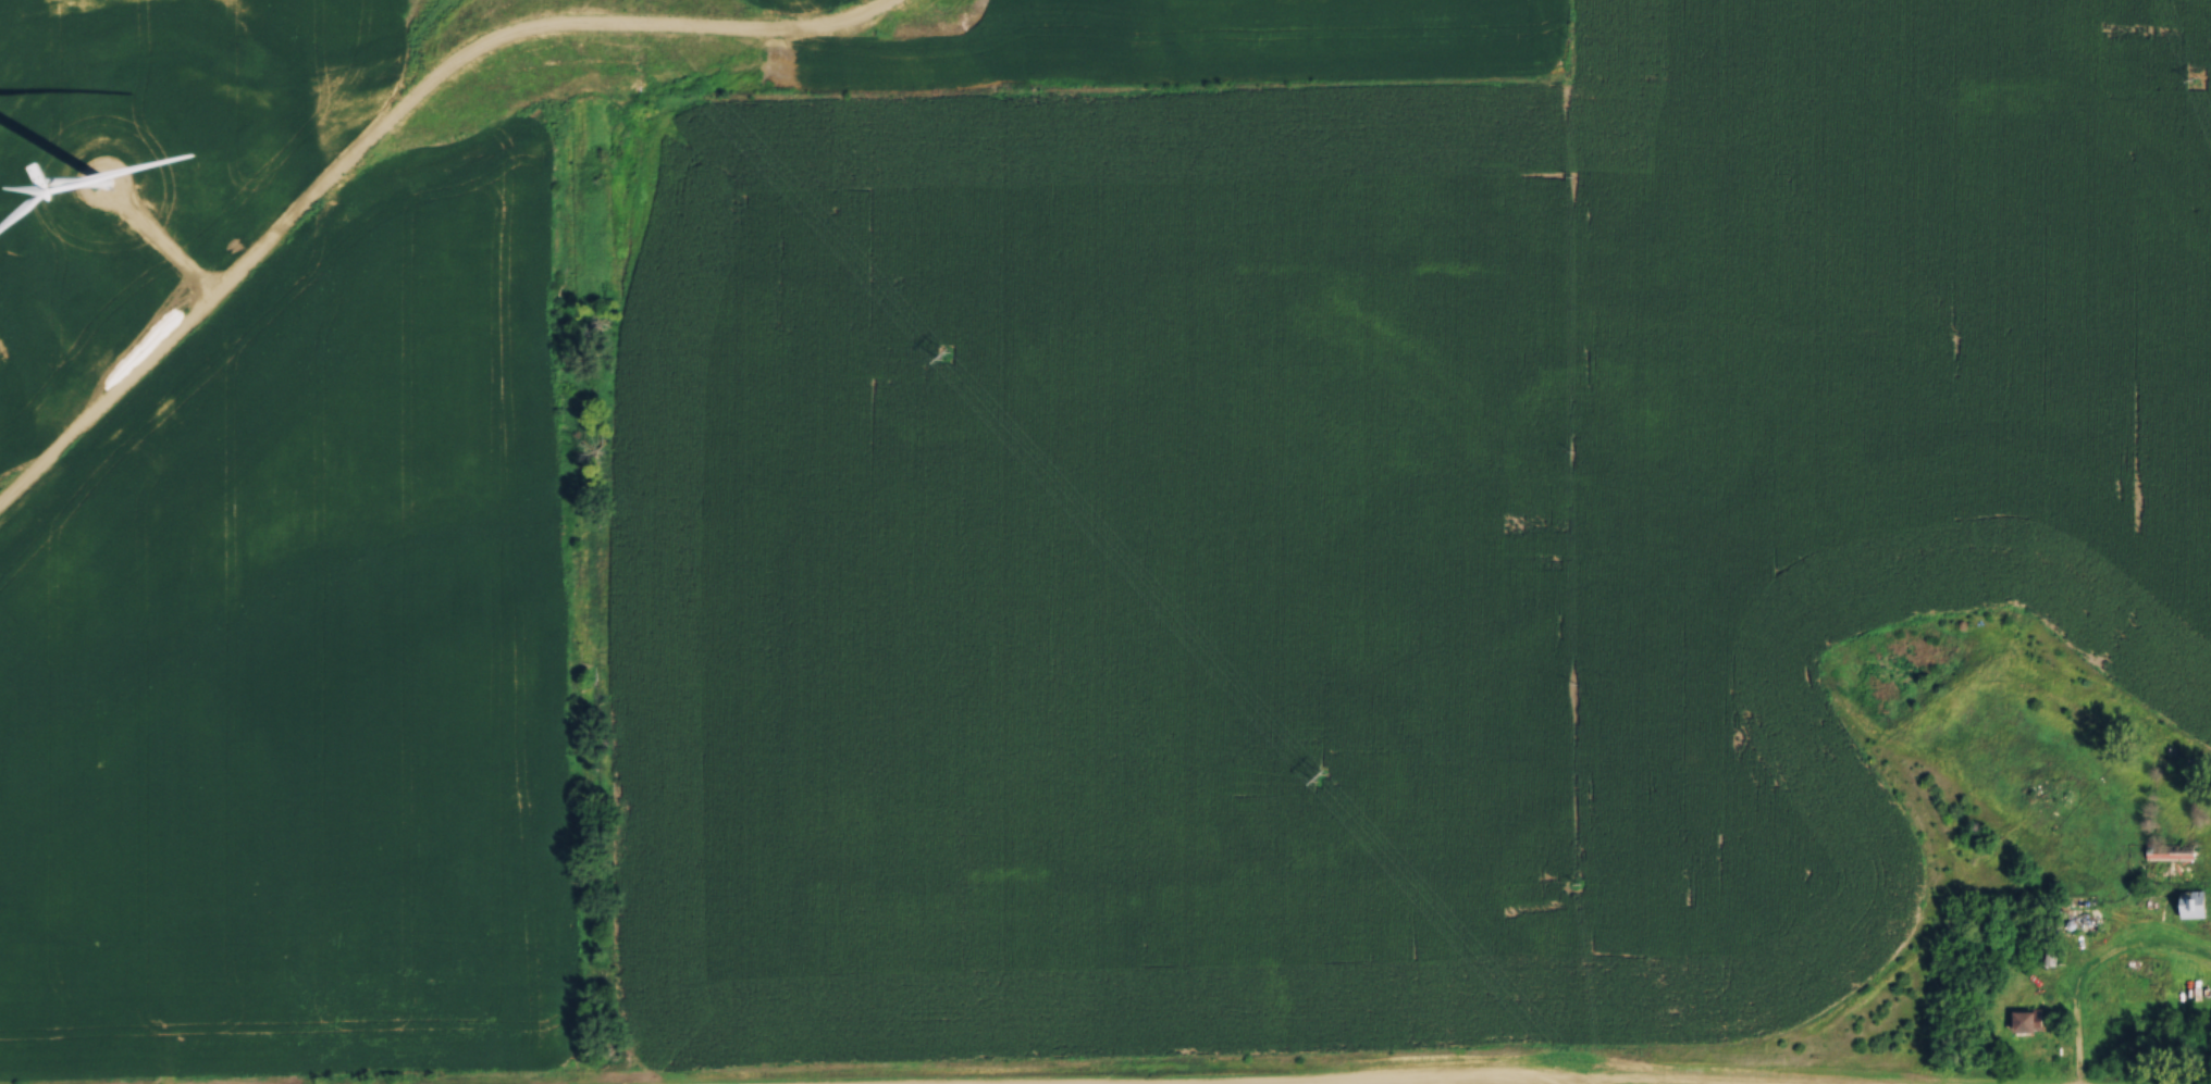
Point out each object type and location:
power tower: (2194, 75)
wind turbine: (106, 182)
power tower: (946, 353)
power tower: (1320, 774)
building: (2174, 854)
building: (2090, 900)
building: (2199, 908)
road: (2093, 968)
building: (2029, 1022)

